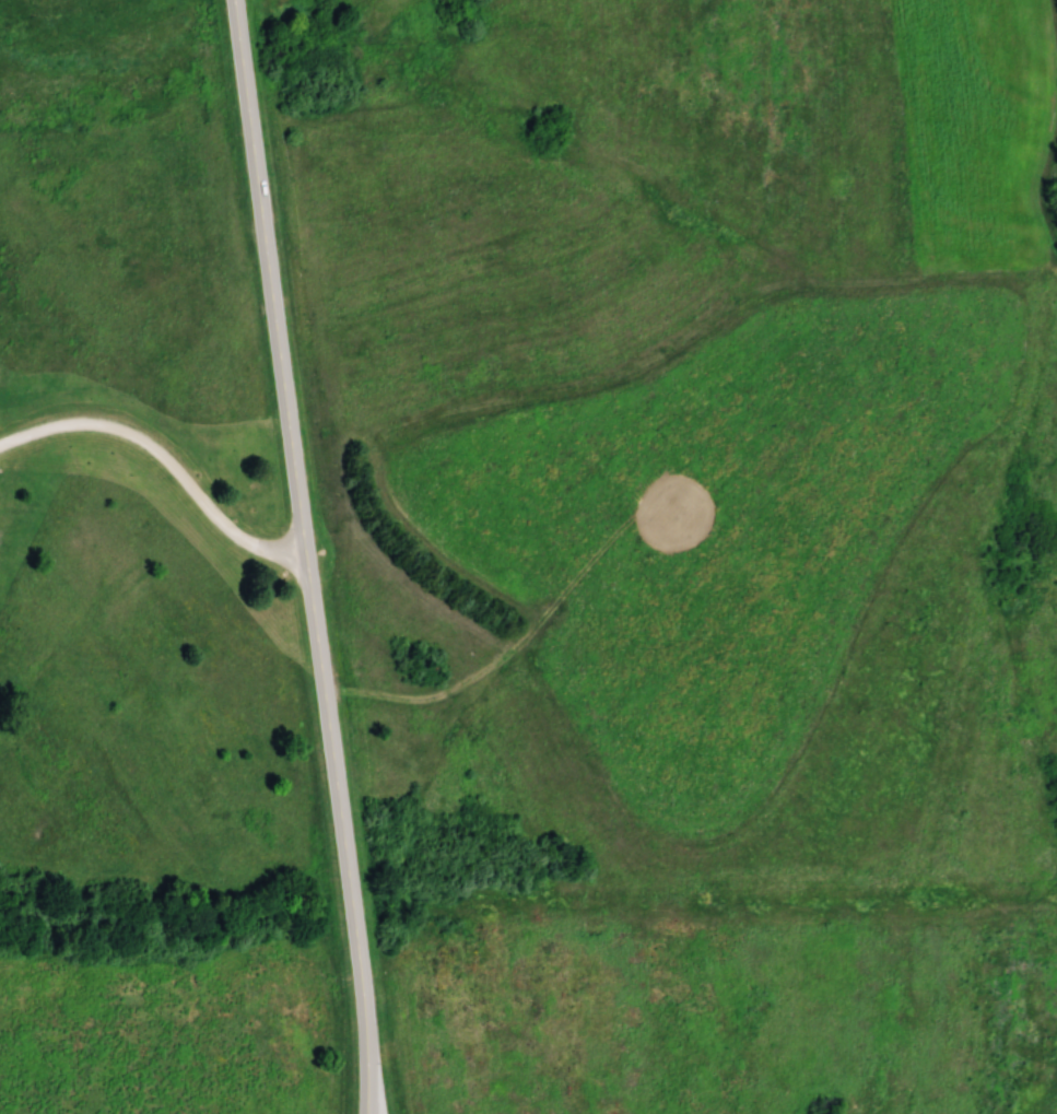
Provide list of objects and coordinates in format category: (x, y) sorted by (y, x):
road: (233, 1)
road: (163, 462)
road: (304, 558)
park: (154, 599)

